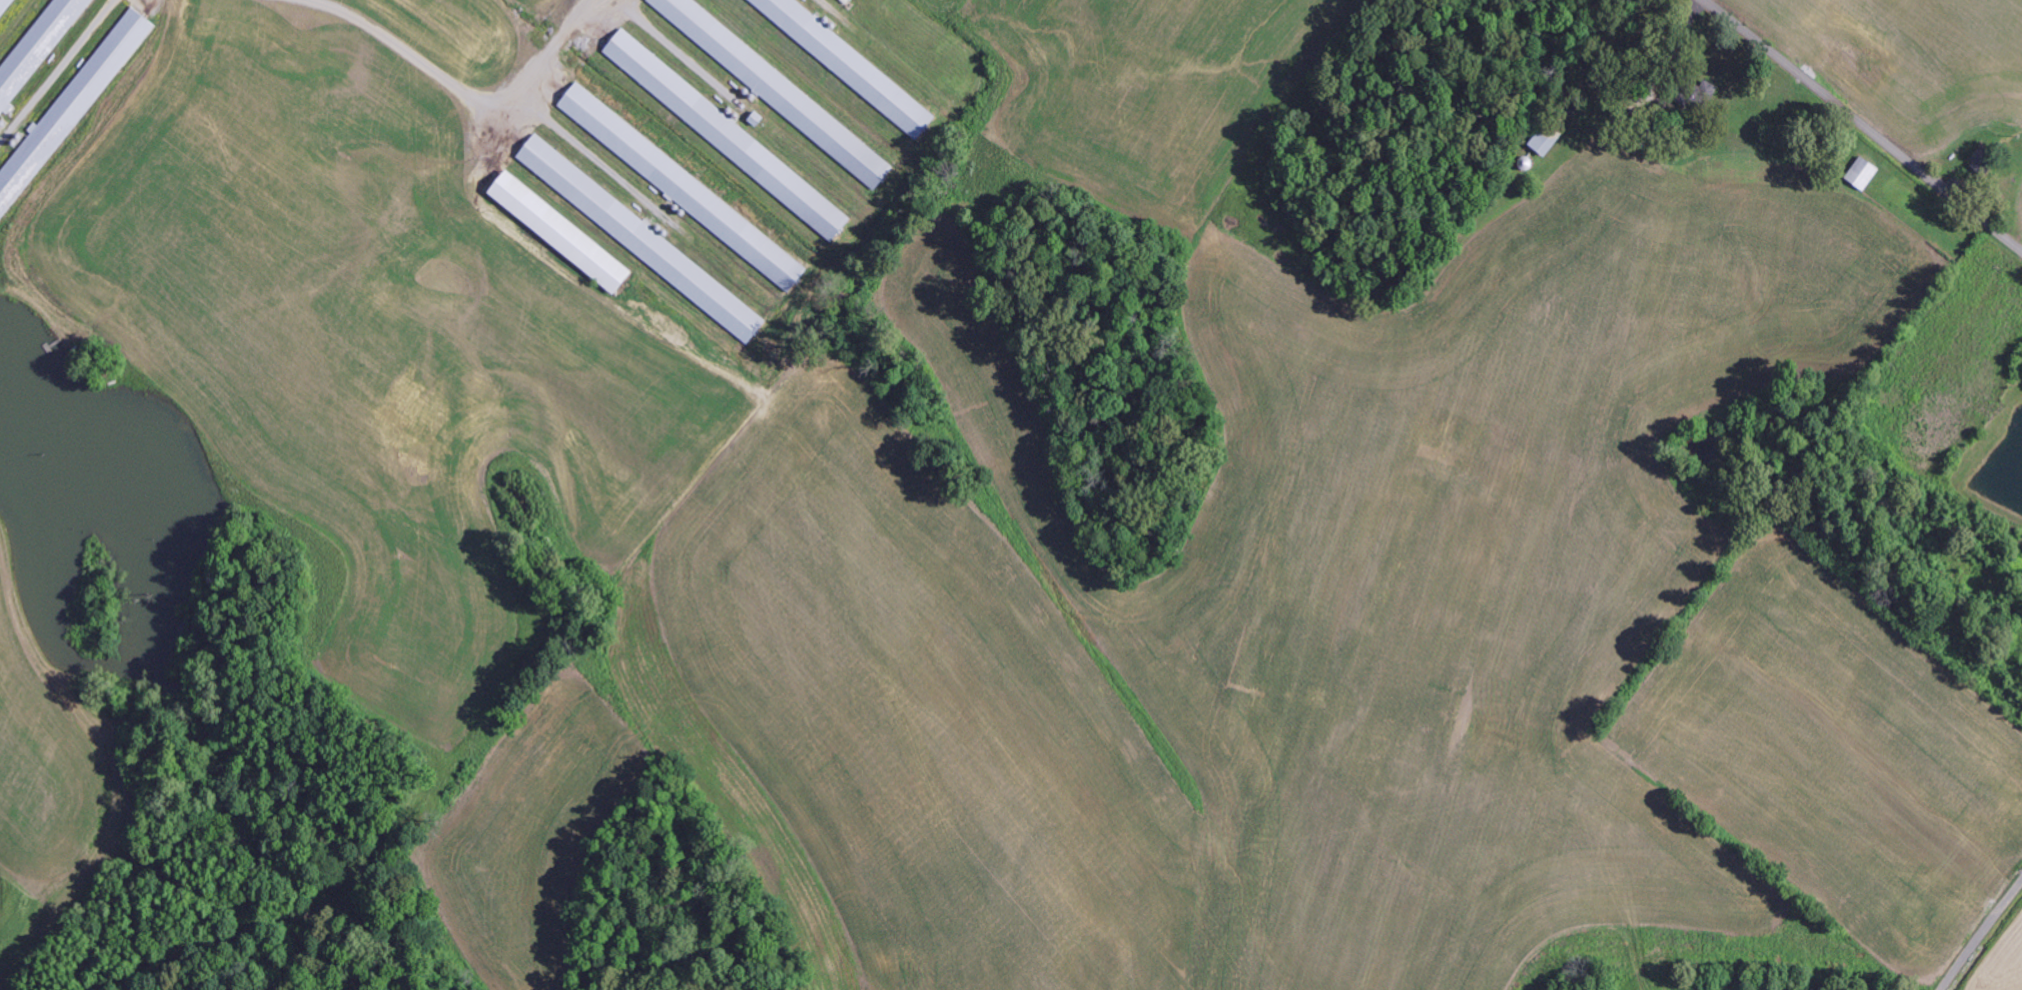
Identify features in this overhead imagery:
building: (38, 51)
building: (853, 63)
building: (780, 89)
building: (67, 114)
road: (1863, 125)
building: (731, 135)
building: (1860, 173)
building: (688, 187)
building: (566, 232)
building: (645, 239)
road: (1347, 870)
road: (1982, 935)

